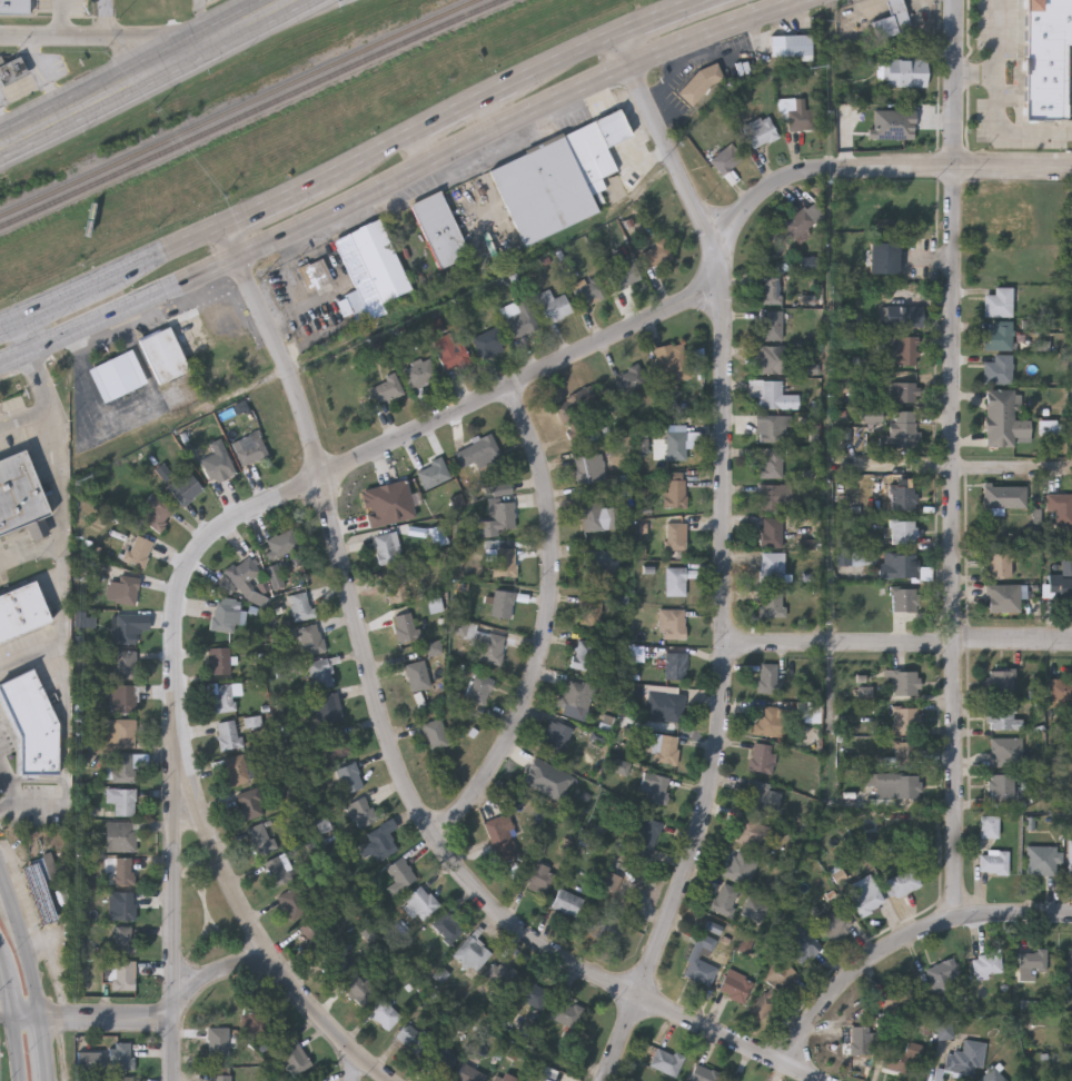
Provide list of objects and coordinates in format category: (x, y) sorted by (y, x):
building: (16, 7)
road: (63, 18)
road: (107, 18)
building: (895, 19)
road: (86, 36)
road: (996, 38)
building: (793, 43)
building: (1046, 57)
building: (12, 70)
building: (907, 71)
road: (146, 73)
road: (975, 76)
building: (702, 81)
railway: (241, 106)
railway: (252, 112)
building: (798, 112)
road: (494, 117)
building: (895, 122)
building: (762, 129)
road: (1006, 135)
road: (424, 150)
building: (728, 157)
road: (358, 162)
road: (882, 168)
road: (400, 180)
building: (553, 181)
building: (906, 204)
building: (801, 218)
building: (441, 228)
building: (654, 254)
building: (884, 257)
building: (374, 264)
building: (623, 275)
building: (317, 277)
building: (588, 288)
building: (771, 289)
building: (997, 301)
building: (553, 305)
building: (903, 316)
building: (517, 317)
building: (771, 325)
building: (997, 335)
building: (488, 341)
building: (904, 349)
building: (449, 350)
building: (166, 354)
building: (671, 357)
building: (776, 358)
building: (997, 368)
building: (420, 371)
building: (119, 375)
building: (631, 378)
building: (385, 388)
building: (768, 391)
building: (903, 391)
building: (576, 405)
road: (126, 411)
building: (1000, 417)
road: (26, 418)
road: (439, 419)
building: (772, 427)
building: (676, 443)
building: (249, 448)
building: (476, 452)
road: (952, 455)
building: (771, 462)
building: (216, 467)
road: (965, 467)
building: (589, 468)
building: (433, 473)
building: (186, 488)
building: (675, 488)
building: (405, 494)
building: (21, 495)
building: (1004, 495)
building: (775, 496)
building: (903, 496)
building: (378, 503)
building: (1054, 508)
building: (156, 513)
building: (500, 513)
building: (596, 515)
road: (31, 528)
building: (771, 530)
building: (903, 530)
building: (675, 535)
road: (31, 536)
building: (281, 542)
road: (63, 547)
building: (387, 547)
building: (138, 551)
road: (31, 554)
road: (725, 556)
building: (505, 561)
building: (599, 561)
building: (1001, 563)
building: (899, 564)
building: (772, 566)
building: (294, 572)
building: (1068, 577)
building: (677, 579)
building: (395, 587)
building: (122, 588)
building: (1002, 596)
building: (904, 597)
building: (770, 598)
building: (502, 603)
building: (299, 605)
building: (21, 609)
building: (590, 609)
building: (224, 616)
building: (671, 623)
road: (546, 626)
building: (122, 627)
building: (405, 627)
building: (310, 638)
building: (487, 644)
road: (900, 644)
building: (583, 654)
road: (31, 658)
building: (219, 659)
building: (675, 663)
building: (123, 664)
building: (319, 672)
building: (416, 674)
building: (767, 677)
building: (905, 681)
building: (1001, 681)
building: (478, 687)
building: (1060, 692)
building: (572, 696)
building: (122, 697)
building: (221, 697)
building: (666, 705)
building: (329, 706)
building: (1003, 716)
building: (905, 717)
building: (767, 721)
building: (31, 722)
building: (119, 732)
building: (435, 733)
building: (228, 734)
building: (553, 738)
building: (338, 741)
building: (665, 747)
building: (1005, 751)
building: (905, 754)
road: (390, 755)
building: (762, 757)
building: (123, 766)
building: (236, 768)
building: (349, 776)
road: (37, 781)
road: (8, 782)
building: (894, 784)
building: (1002, 784)
building: (654, 787)
building: (762, 796)
building: (121, 800)
building: (249, 801)
road: (7, 803)
road: (49, 809)
building: (361, 811)
building: (989, 825)
road: (173, 829)
building: (751, 830)
building: (120, 835)
building: (259, 836)
building: (498, 839)
building: (645, 839)
building: (380, 840)
road: (212, 842)
building: (1070, 855)
building: (1042, 859)
building: (994, 860)
building: (737, 863)
building: (123, 870)
building: (276, 870)
building: (399, 874)
building: (537, 876)
road: (2, 880)
building: (902, 882)
building: (39, 891)
building: (865, 893)
building: (724, 897)
building: (420, 901)
building: (292, 902)
building: (567, 902)
building: (123, 904)
building: (754, 909)
building: (835, 923)
building: (447, 925)
building: (606, 925)
building: (312, 934)
road: (902, 935)
building: (123, 939)
building: (801, 942)
road: (26, 950)
building: (470, 952)
building: (701, 959)
building: (1032, 959)
building: (334, 961)
building: (986, 961)
building: (1069, 965)
road: (231, 966)
building: (942, 972)
building: (499, 973)
building: (125, 974)
building: (774, 983)
building: (735, 984)
building: (354, 989)
building: (532, 992)
building: (896, 999)
building: (383, 1013)
building: (565, 1013)
road: (13, 1015)
road: (7, 1018)
road: (27, 1018)
building: (255, 1021)
building: (410, 1038)
building: (860, 1039)
building: (217, 1041)
road: (43, 1049)
building: (291, 1053)
building: (120, 1054)
building: (440, 1055)
building: (965, 1058)
building: (901, 1059)
building: (88, 1060)
building: (665, 1060)
building: (468, 1073)
building: (704, 1073)
building: (992, 1074)
building: (220, 1077)
building: (504, 1077)
building: (121, 1078)
building: (729, 1080)

